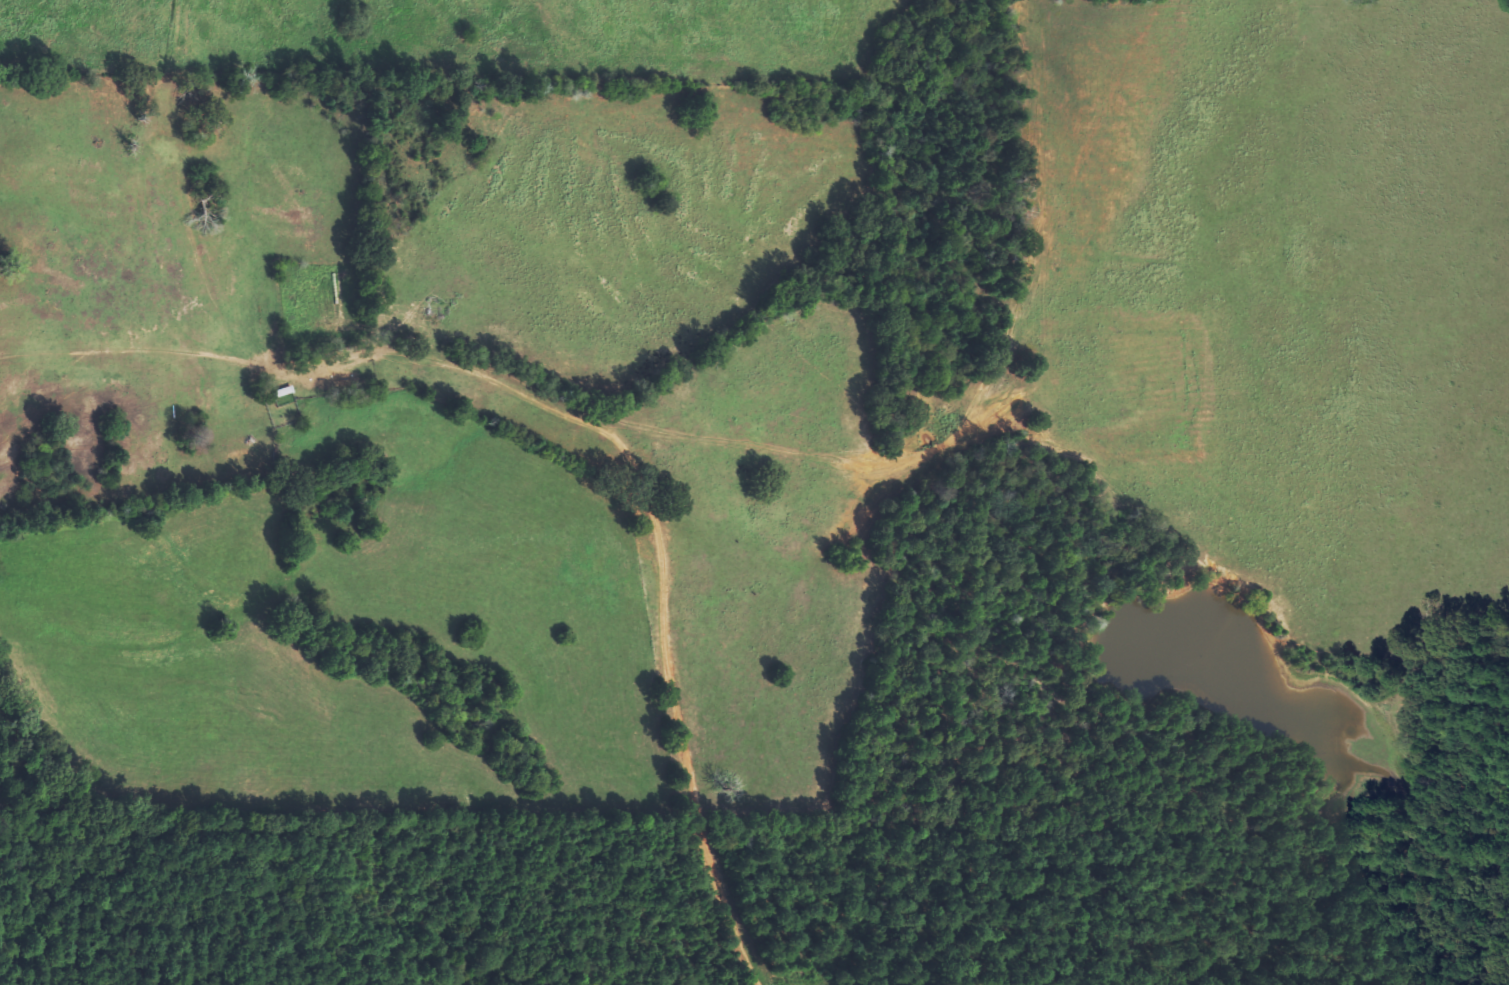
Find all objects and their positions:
road: (544, 390)

